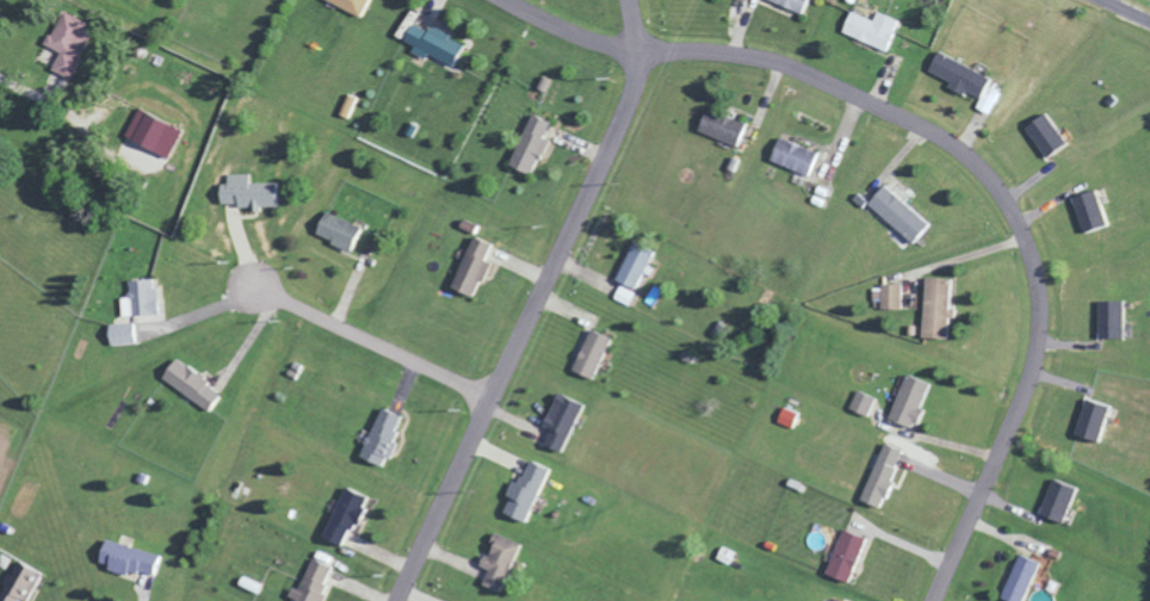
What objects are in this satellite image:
building: (791, 4)
building: (350, 5)
road: (1127, 10)
building: (871, 27)
road: (564, 29)
building: (68, 42)
building: (431, 42)
building: (965, 80)
road: (38, 92)
building: (347, 105)
building: (719, 125)
building: (154, 132)
building: (1045, 134)
building: (532, 145)
building: (792, 155)
building: (246, 192)
road: (1004, 205)
building: (1088, 210)
building: (897, 212)
building: (335, 230)
building: (633, 265)
building: (471, 266)
building: (623, 295)
building: (891, 296)
building: (138, 298)
road: (528, 304)
building: (935, 306)
building: (1109, 318)
building: (120, 333)
road: (369, 343)
building: (591, 353)
building: (190, 384)
building: (908, 401)
building: (861, 403)
building: (786, 416)
building: (1090, 419)
building: (559, 420)
building: (379, 436)
building: (880, 475)
building: (525, 490)
building: (1057, 500)
building: (341, 516)
building: (843, 554)
building: (125, 558)
building: (497, 560)
building: (1020, 578)
building: (310, 582)
building: (19, 584)

